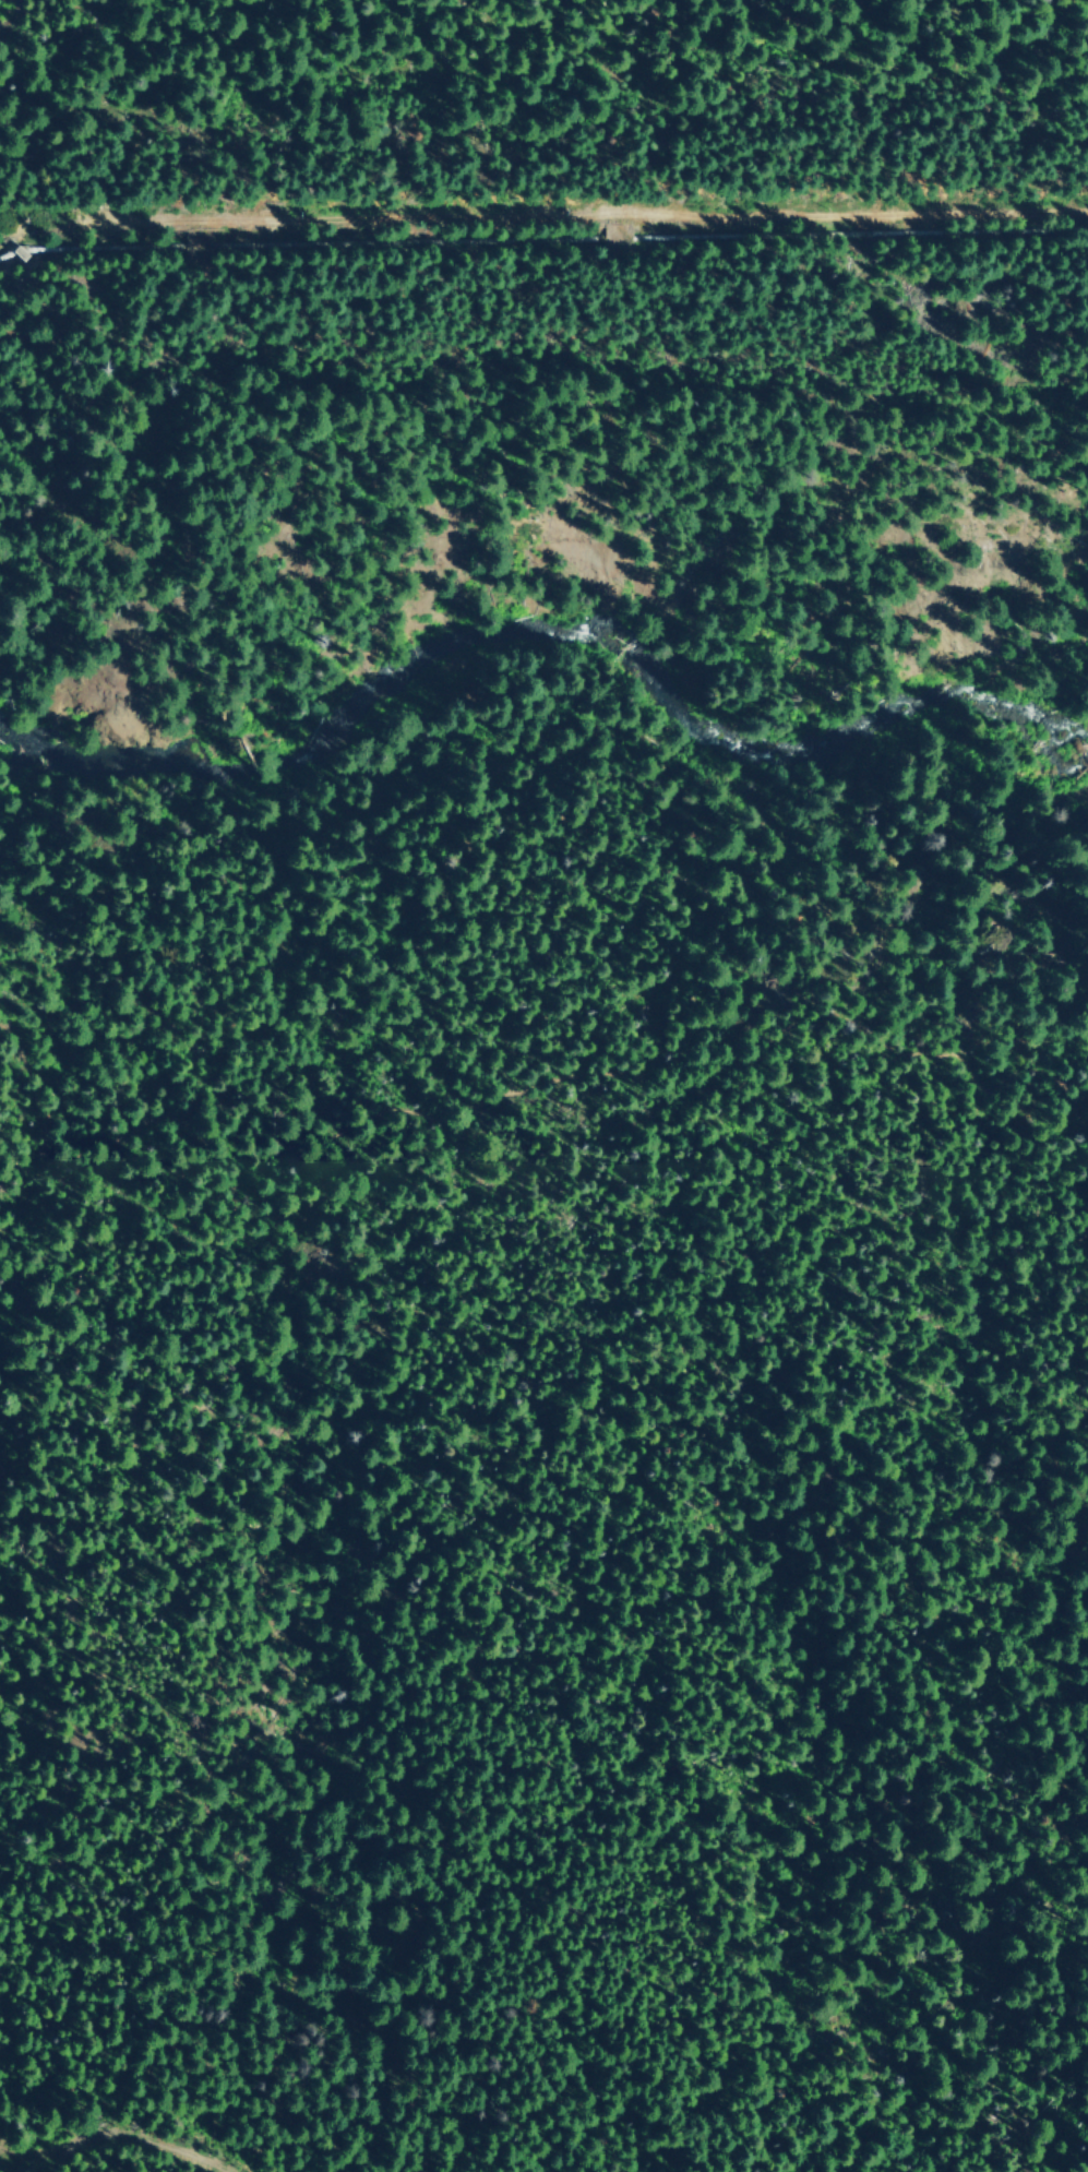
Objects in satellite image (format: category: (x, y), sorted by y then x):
road: (752, 3)
road: (550, 216)
road: (613, 238)
river: (542, 636)
road: (517, 1089)
road: (118, 2136)

